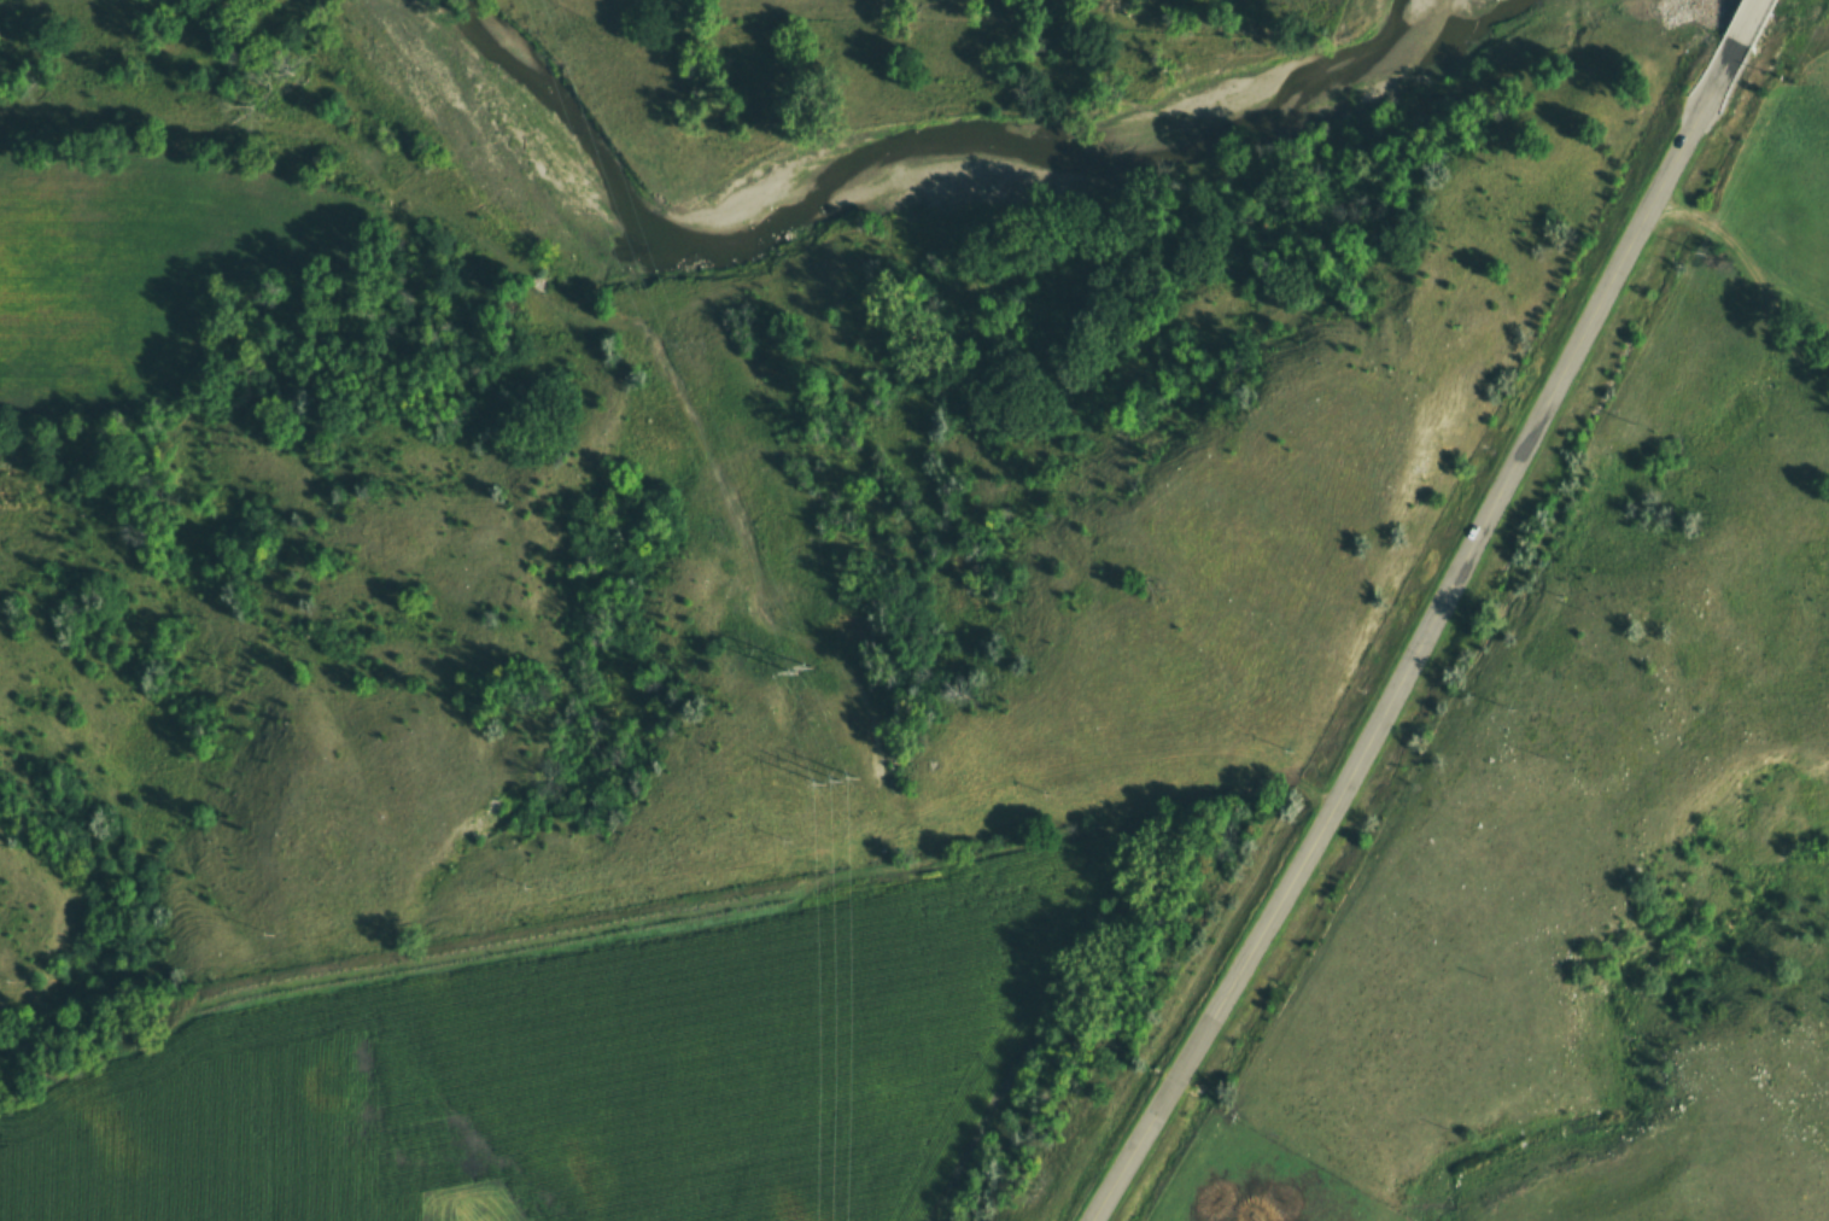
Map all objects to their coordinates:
river: (908, 199)
road: (1445, 614)
power tower: (843, 779)

